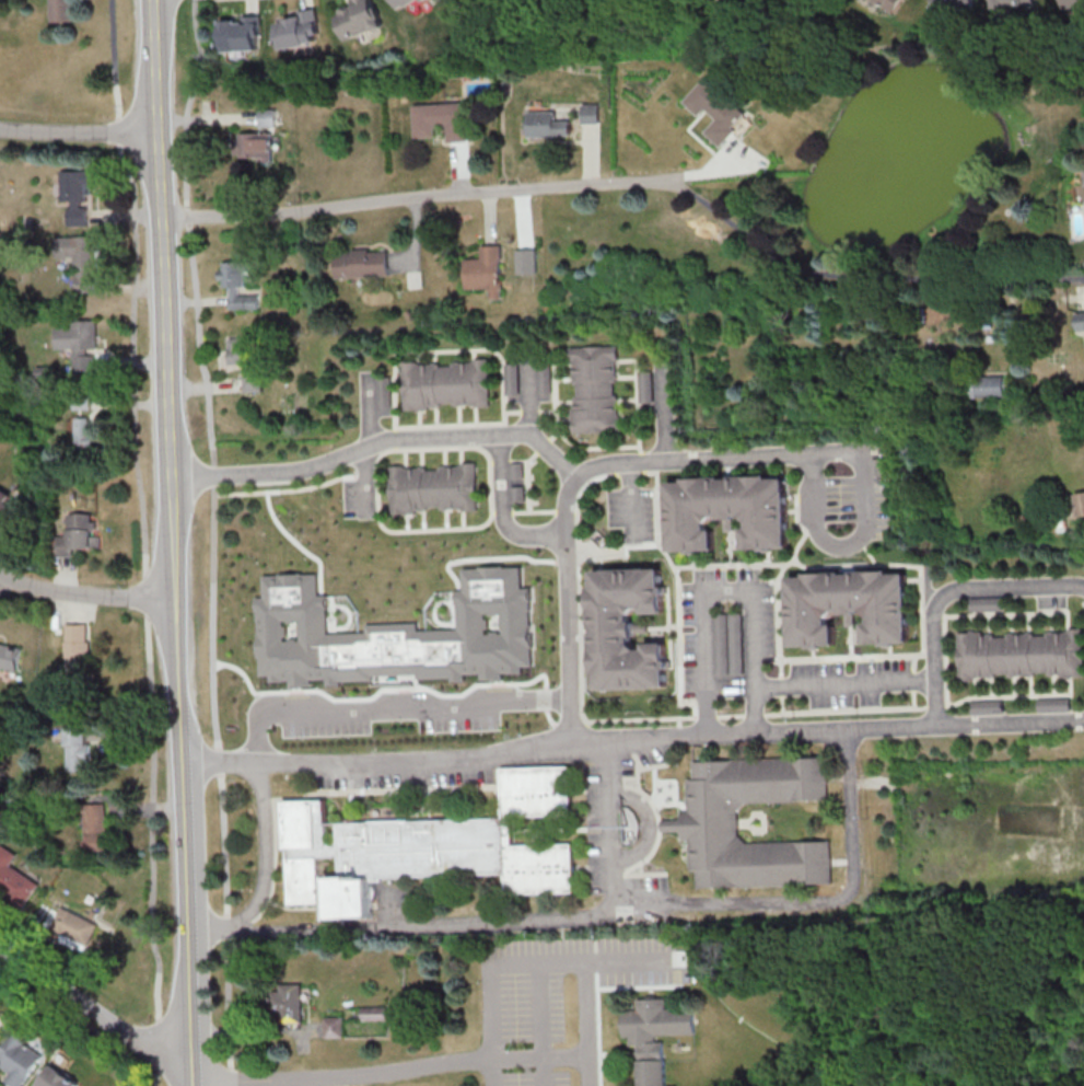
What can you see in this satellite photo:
building: (1012, 3)
building: (1071, 3)
building: (405, 4)
building: (888, 4)
building: (954, 7)
building: (58, 11)
building: (357, 20)
building: (298, 31)
building: (240, 35)
building: (713, 112)
building: (588, 115)
building: (441, 122)
building: (546, 126)
road: (78, 132)
building: (254, 145)
building: (1083, 172)
road: (417, 195)
building: (77, 198)
building: (79, 259)
building: (362, 264)
building: (486, 270)
building: (236, 287)
building: (1081, 321)
building: (79, 344)
building: (246, 363)
building: (446, 384)
building: (983, 388)
building: (595, 390)
road: (529, 393)
road: (373, 407)
road: (666, 409)
building: (83, 432)
road: (382, 441)
road: (590, 467)
building: (435, 488)
building: (1080, 504)
building: (8, 508)
road: (504, 510)
building: (726, 510)
road: (174, 533)
building: (79, 535)
road: (214, 540)
road: (141, 542)
road: (836, 542)
road: (3, 581)
road: (727, 588)
road: (947, 591)
road: (86, 593)
building: (850, 606)
building: (626, 629)
building: (727, 645)
building: (1022, 655)
building: (10, 657)
building: (73, 674)
road: (848, 683)
road: (394, 708)
road: (1012, 721)
road: (757, 731)
building: (75, 749)
road: (378, 761)
road: (650, 824)
building: (700, 827)
building: (94, 828)
building: (427, 851)
road: (266, 873)
building: (14, 879)
road: (737, 903)
road: (423, 925)
building: (72, 929)
road: (620, 961)
road: (555, 964)
road: (53, 981)
building: (290, 1003)
building: (375, 1014)
road: (79, 1017)
building: (335, 1028)
building: (654, 1036)
road: (147, 1045)
road: (538, 1055)
building: (19, 1060)
road: (490, 1071)
road: (191, 1076)
road: (340, 1076)
building: (55, 1078)

